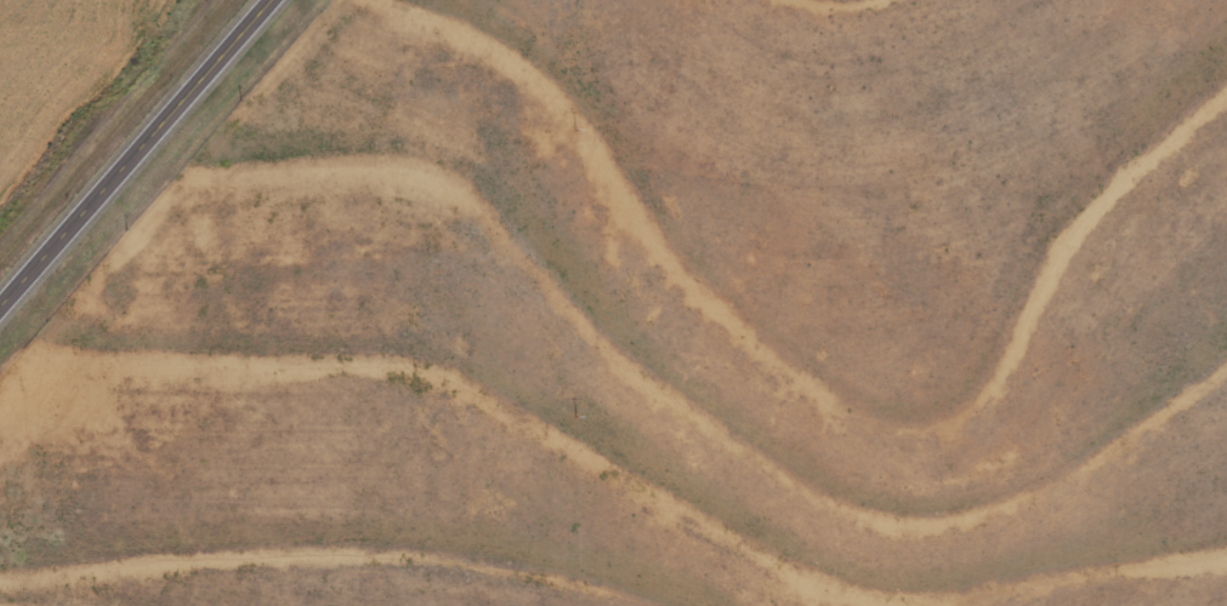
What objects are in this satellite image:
road: (138, 155)

